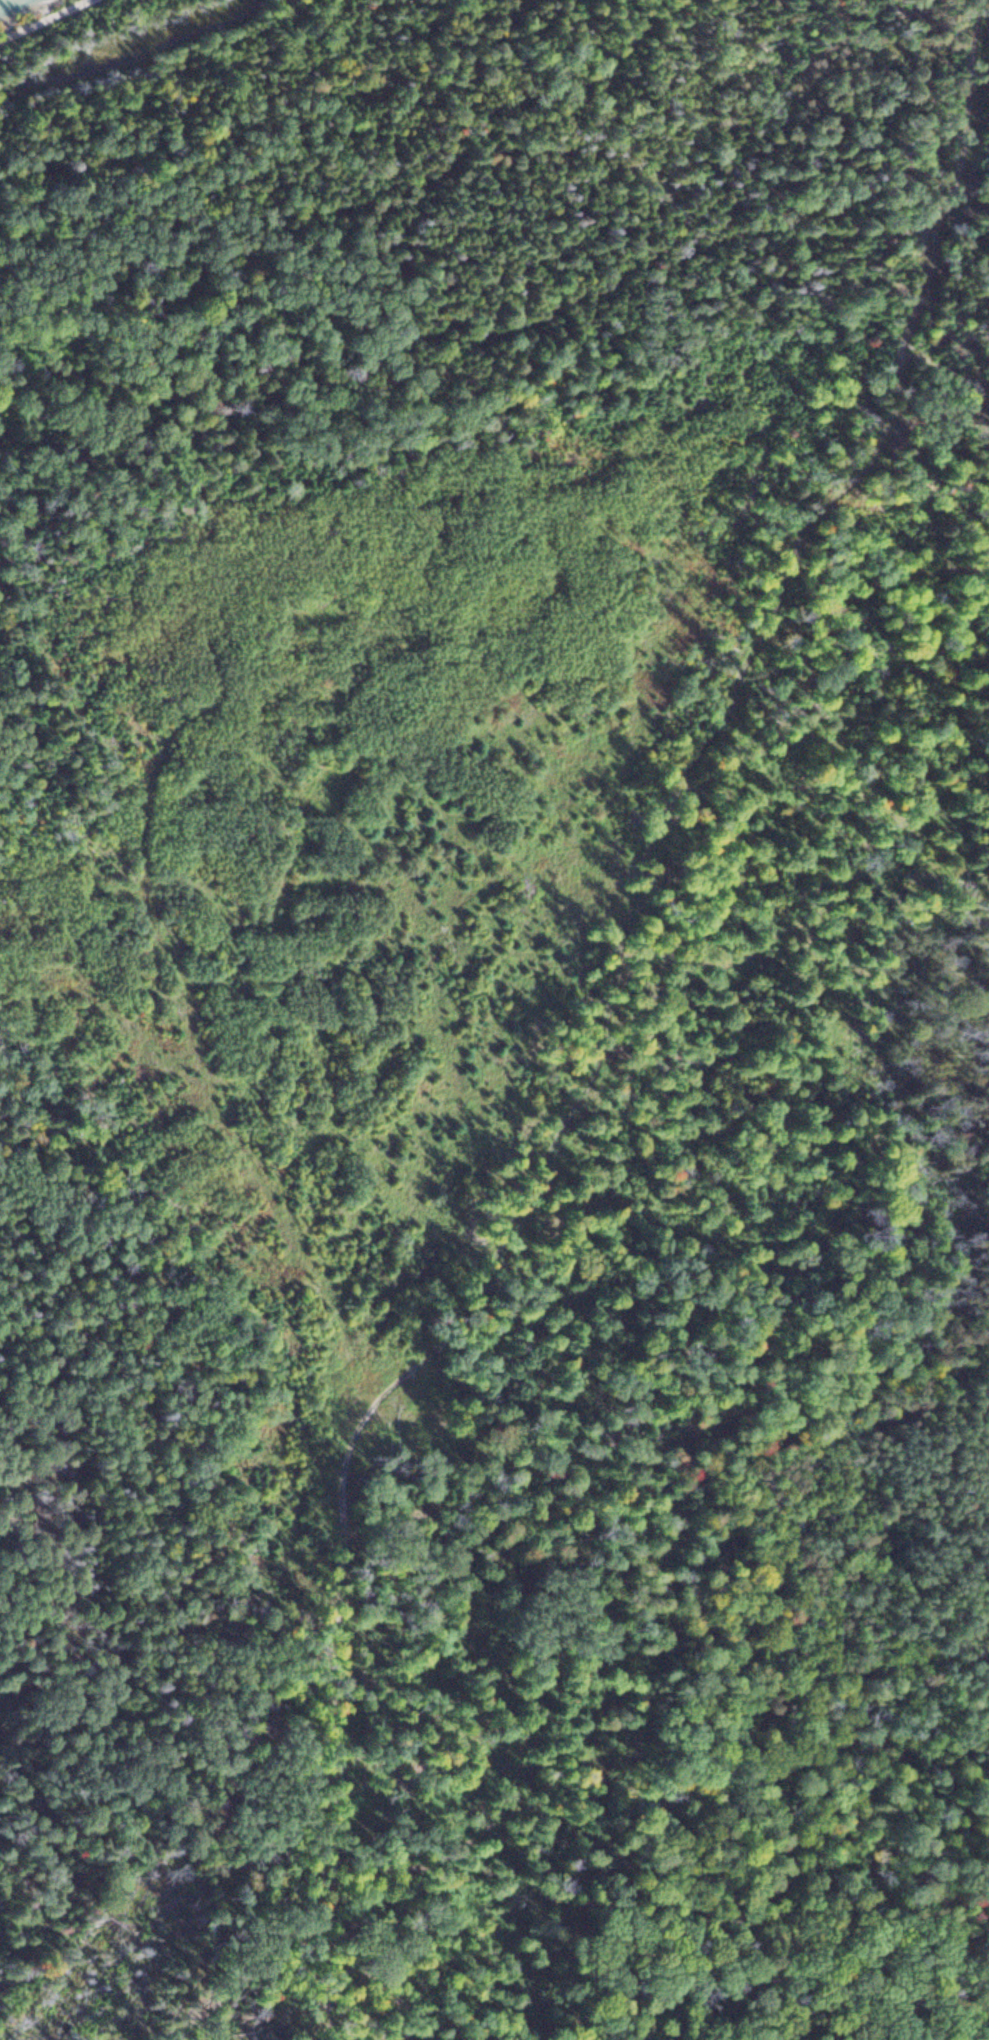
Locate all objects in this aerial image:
road: (59, 30)

